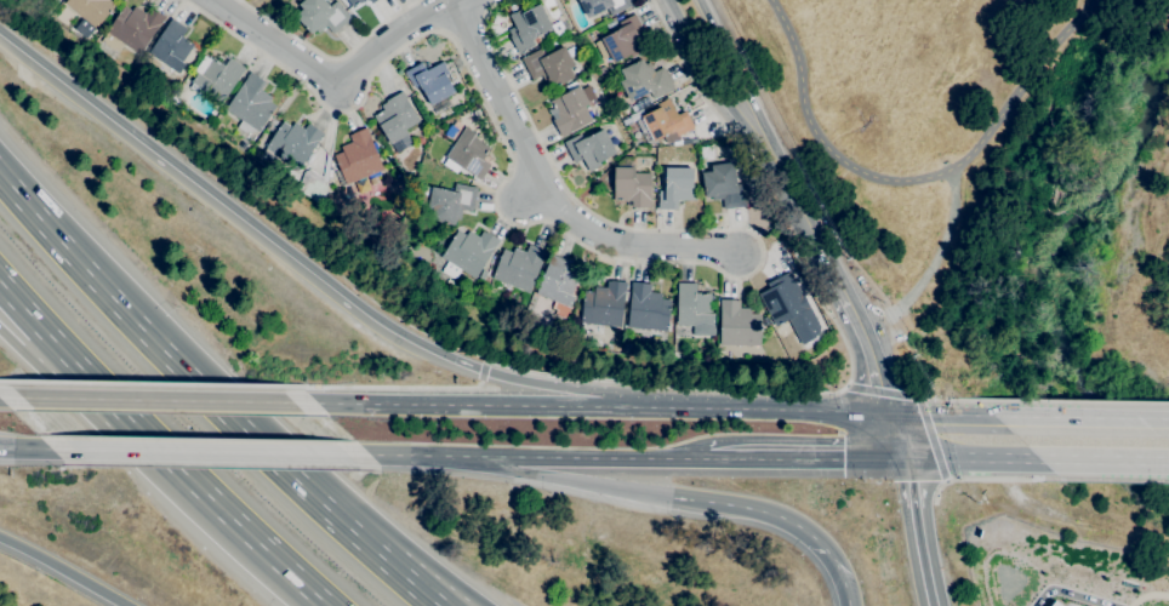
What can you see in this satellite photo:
building: (563, 0)
building: (371, 1)
building: (354, 2)
building: (603, 6)
building: (89, 13)
building: (321, 15)
building: (528, 27)
building: (557, 27)
building: (132, 28)
building: (622, 40)
building: (171, 46)
road: (329, 57)
building: (549, 65)
building: (217, 79)
building: (430, 80)
building: (644, 80)
road: (337, 85)
building: (251, 104)
road: (748, 108)
building: (570, 110)
road: (729, 110)
building: (666, 120)
building: (397, 121)
building: (295, 138)
building: (589, 148)
park: (934, 148)
building: (469, 154)
building: (357, 159)
road: (916, 177)
building: (724, 183)
building: (631, 184)
building: (675, 187)
road: (540, 193)
building: (451, 202)
road: (234, 215)
road: (586, 246)
building: (467, 252)
road: (926, 267)
building: (517, 268)
river: (1050, 270)
building: (557, 282)
road: (112, 299)
building: (603, 304)
building: (646, 308)
building: (791, 308)
building: (694, 309)
road: (850, 309)
road: (34, 321)
building: (737, 325)
road: (32, 350)
road: (848, 350)
road: (481, 375)
road: (1, 379)
road: (139, 383)
road: (845, 384)
road: (559, 385)
road: (384, 387)
road: (98, 389)
road: (882, 390)
road: (11, 396)
road: (919, 398)
road: (946, 399)
road: (156, 400)
road: (1072, 401)
road: (463, 404)
road: (760, 407)
traffic signals: (885, 410)
road: (939, 416)
road: (1082, 417)
road: (893, 433)
road: (933, 439)
road: (36, 448)
road: (209, 452)
road: (414, 457)
traffic signals: (901, 457)
road: (970, 457)
road: (809, 458)
road: (1104, 458)
road: (598, 462)
road: (992, 479)
road: (1114, 479)
road: (575, 480)
road: (947, 481)
road: (308, 490)
road: (224, 514)
road: (782, 519)
road: (914, 531)
road: (64, 570)
road: (411, 583)
road: (1070, 593)
road: (1147, 594)
building: (1053, 604)
road: (477, 605)
road: (1070, 605)

